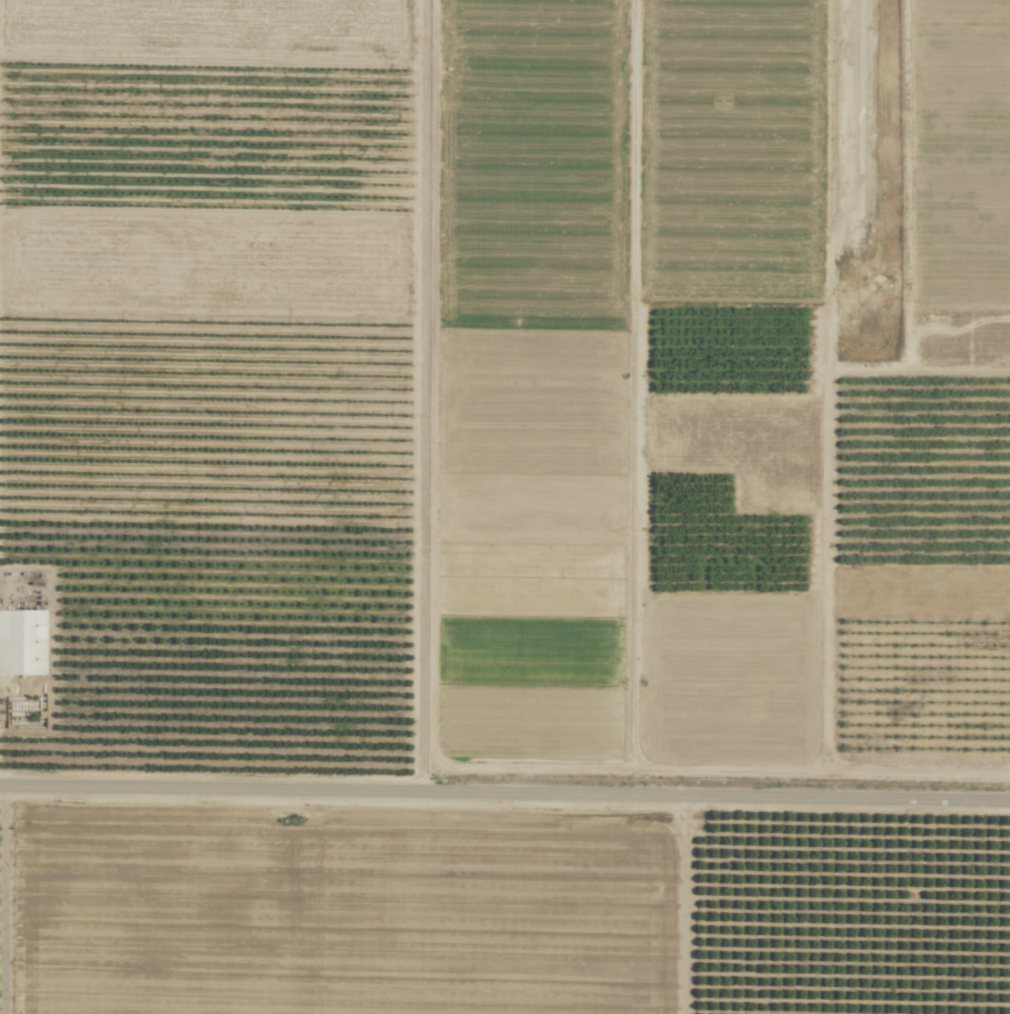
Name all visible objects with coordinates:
airport runway: (858, 205)
building: (22, 642)
road: (504, 801)
road: (3, 903)

